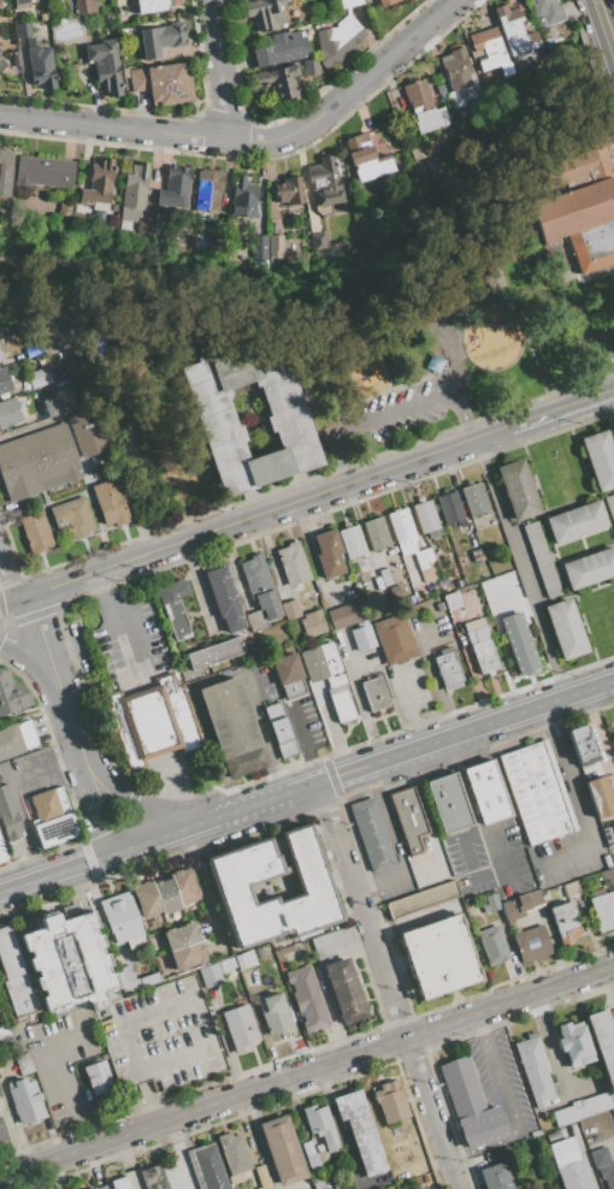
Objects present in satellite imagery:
building: (20, 1)
building: (118, 2)
building: (348, 2)
building: (386, 2)
building: (154, 5)
building: (85, 6)
building: (545, 10)
building: (265, 13)
building: (108, 16)
road: (604, 25)
building: (23, 29)
building: (513, 30)
building: (161, 39)
building: (337, 41)
building: (279, 49)
building: (489, 51)
building: (16, 60)
building: (1, 64)
building: (40, 64)
building: (105, 65)
building: (309, 66)
building: (455, 67)
road: (217, 69)
building: (136, 79)
building: (170, 82)
building: (277, 82)
building: (438, 84)
building: (453, 100)
building: (423, 107)
road: (250, 140)
building: (418, 149)
building: (364, 158)
building: (430, 165)
building: (408, 170)
building: (5, 171)
building: (42, 171)
building: (98, 184)
building: (323, 184)
building: (175, 187)
building: (207, 189)
building: (132, 191)
building: (287, 191)
building: (243, 199)
building: (578, 203)
building: (371, 223)
building: (143, 224)
building: (157, 224)
building: (214, 242)
building: (317, 242)
building: (274, 243)
building: (259, 248)
building: (492, 279)
road: (607, 297)
road: (482, 304)
building: (431, 306)
road: (588, 306)
park: (489, 310)
road: (571, 333)
building: (33, 351)
building: (0, 359)
road: (361, 362)
building: (39, 377)
building: (4, 380)
road: (400, 385)
building: (65, 396)
building: (52, 406)
road: (561, 410)
building: (8, 412)
parking lot: (396, 412)
road: (388, 416)
building: (288, 426)
building: (87, 432)
building: (600, 457)
building: (36, 461)
building: (516, 490)
building: (473, 499)
building: (111, 501)
building: (610, 507)
building: (450, 508)
road: (266, 513)
building: (425, 516)
building: (71, 519)
building: (575, 521)
building: (402, 530)
building: (35, 532)
building: (376, 533)
building: (352, 542)
building: (327, 552)
building: (541, 557)
building: (291, 563)
building: (426, 563)
road: (520, 568)
building: (589, 568)
road: (8, 574)
building: (385, 578)
building: (394, 591)
building: (259, 592)
building: (224, 598)
building: (408, 598)
building: (451, 599)
road: (12, 601)
building: (175, 607)
building: (439, 607)
building: (355, 610)
road: (118, 613)
building: (313, 623)
building: (565, 628)
building: (361, 638)
building: (394, 639)
building: (520, 645)
building: (480, 647)
building: (214, 652)
building: (320, 661)
road: (25, 662)
building: (448, 669)
road: (54, 674)
building: (289, 674)
building: (336, 680)
building: (11, 693)
building: (374, 693)
building: (341, 705)
building: (152, 721)
building: (232, 726)
building: (279, 730)
road: (466, 730)
building: (613, 732)
building: (16, 738)
road: (306, 743)
building: (581, 745)
road: (46, 765)
road: (89, 774)
building: (485, 792)
building: (535, 793)
road: (274, 797)
building: (600, 797)
road: (571, 800)
road: (148, 803)
building: (448, 803)
building: (48, 804)
road: (467, 806)
building: (8, 816)
road: (426, 817)
building: (408, 818)
road: (106, 823)
building: (54, 829)
road: (175, 832)
building: (371, 834)
building: (608, 835)
building: (2, 852)
road: (397, 857)
building: (606, 860)
road: (58, 871)
building: (606, 876)
building: (184, 885)
building: (315, 889)
building: (166, 895)
building: (421, 899)
building: (144, 900)
building: (490, 903)
building: (520, 905)
building: (603, 911)
building: (122, 919)
building: (565, 922)
building: (329, 941)
building: (531, 943)
building: (492, 945)
building: (183, 946)
building: (285, 950)
building: (439, 957)
building: (244, 959)
building: (69, 962)
building: (226, 964)
building: (211, 975)
building: (14, 976)
building: (134, 978)
road: (386, 986)
building: (344, 990)
building: (307, 999)
building: (274, 1013)
building: (240, 1028)
building: (574, 1043)
building: (602, 1045)
building: (24, 1064)
building: (535, 1069)
road: (306, 1071)
building: (98, 1077)
road: (66, 1078)
building: (147, 1088)
building: (0, 1094)
building: (26, 1100)
building: (389, 1101)
building: (470, 1102)
building: (583, 1107)
road: (510, 1108)
building: (613, 1108)
building: (320, 1126)
building: (360, 1131)
building: (2, 1134)
building: (551, 1135)
building: (282, 1149)
building: (562, 1150)
building: (234, 1155)
building: (311, 1155)
building: (598, 1157)
building: (206, 1167)
building: (412, 1171)
building: (607, 1175)
building: (574, 1176)
building: (262, 1177)
building: (494, 1177)
building: (150, 1178)
building: (318, 1182)
building: (119, 1183)
building: (100, 1187)
building: (523, 1187)

